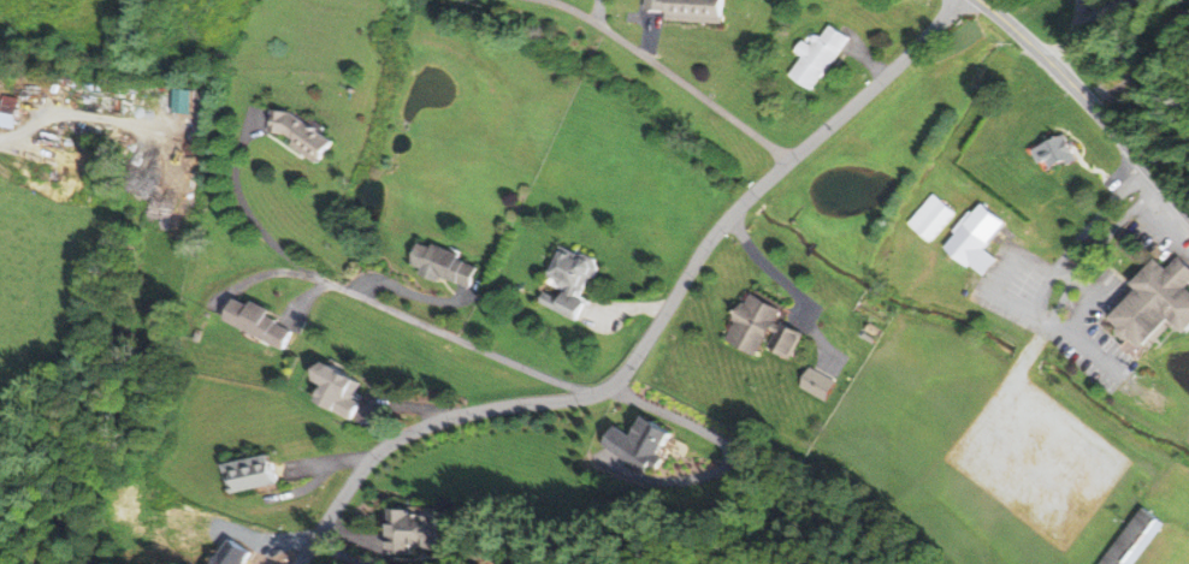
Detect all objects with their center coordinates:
building: (681, 10)
road: (1106, 12)
road: (1075, 35)
building: (812, 59)
road: (669, 73)
road: (1089, 102)
building: (5, 114)
road: (78, 115)
building: (295, 137)
building: (1049, 155)
road: (246, 204)
road: (1099, 218)
building: (929, 220)
road: (1113, 230)
building: (972, 242)
road: (767, 266)
building: (442, 267)
road: (1054, 269)
building: (562, 283)
road: (409, 291)
road: (1090, 301)
building: (1153, 305)
parking lot: (1057, 309)
road: (1039, 315)
building: (255, 326)
road: (655, 330)
building: (757, 331)
road: (451, 338)
building: (331, 393)
building: (635, 444)
building: (248, 475)
building: (410, 533)
building: (1129, 540)
road: (337, 554)

